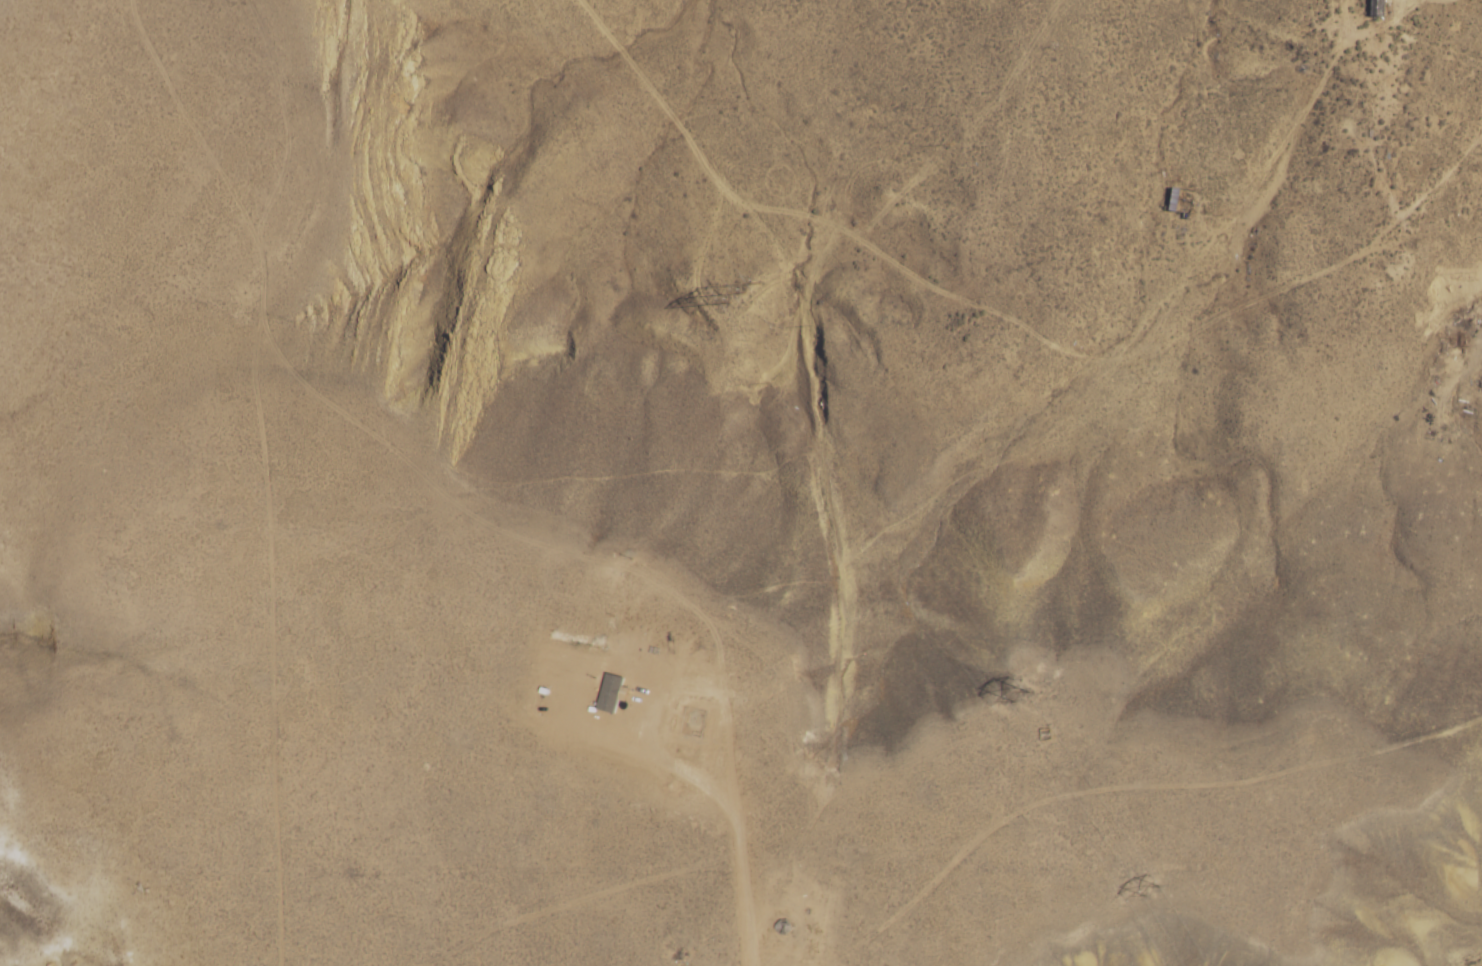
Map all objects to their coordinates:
building: (1377, 8)
power tower: (743, 288)
road: (841, 465)
power tower: (1021, 691)
road: (888, 876)
power tower: (1151, 888)

